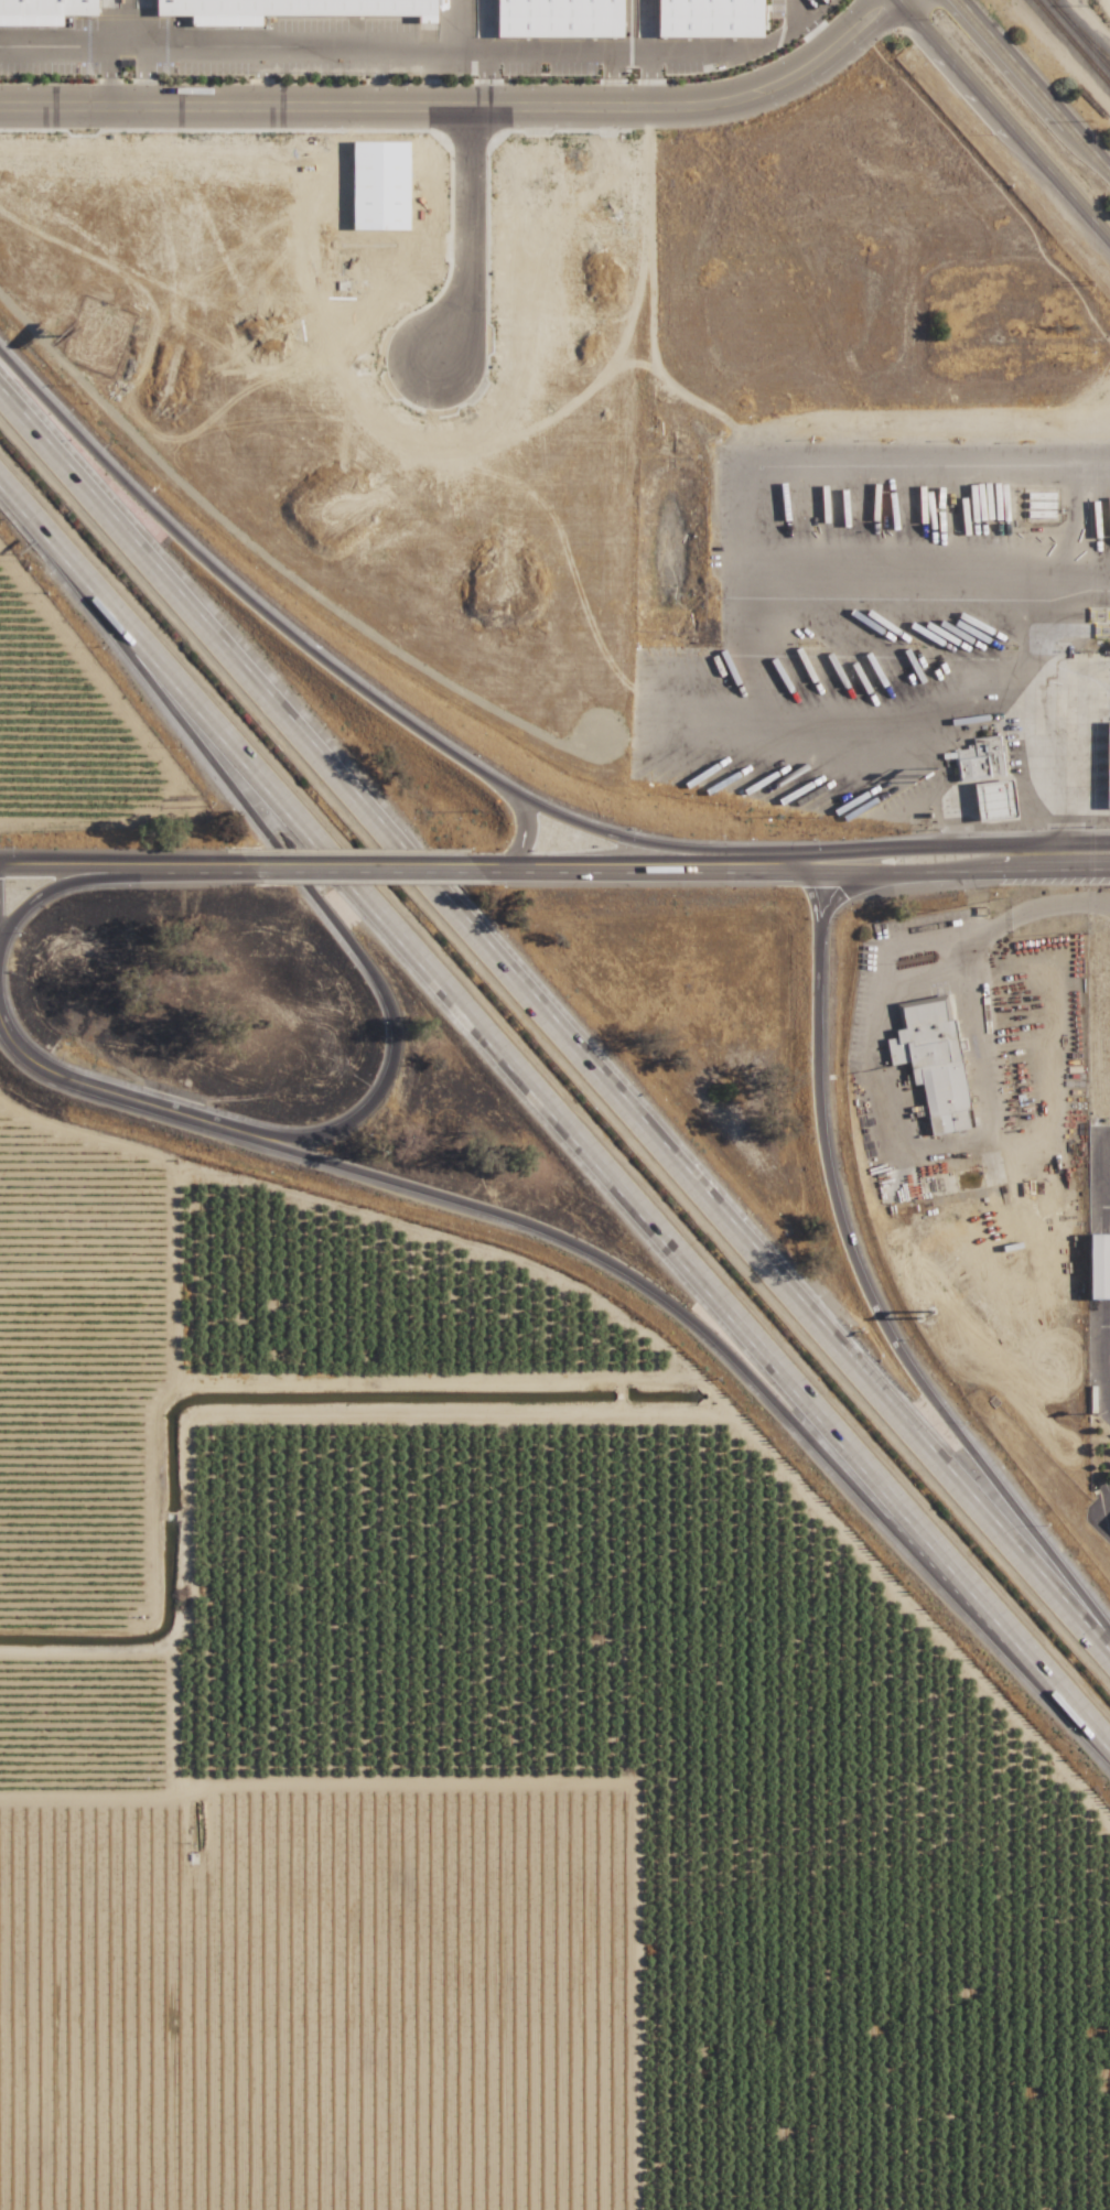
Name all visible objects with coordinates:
building: (288, 9)
road: (799, 9)
building: (43, 11)
building: (558, 18)
building: (709, 18)
road: (470, 30)
road: (813, 32)
railway: (1079, 34)
railway: (1071, 43)
road: (732, 51)
road: (565, 56)
road: (287, 57)
road: (52, 58)
road: (105, 63)
road: (650, 77)
road: (610, 78)
road: (482, 79)
road: (259, 80)
road: (425, 80)
road: (380, 82)
road: (1034, 85)
road: (455, 104)
road: (1003, 120)
road: (927, 570)
road: (237, 590)
road: (713, 655)
building: (1108, 758)
road: (1046, 770)
building: (984, 777)
road: (517, 827)
road: (629, 842)
road: (945, 845)
road: (86, 862)
road: (209, 863)
road: (363, 863)
road: (634, 863)
road: (777, 863)
road: (487, 864)
road: (945, 871)
road: (78, 878)
road: (847, 891)
road: (324, 910)
road: (974, 936)
road: (815, 1002)
road: (554, 1014)
building: (933, 1061)
road: (30, 1063)
road: (553, 1115)
road: (1103, 1152)
road: (300, 1155)
building: (1099, 1265)
road: (780, 1409)
road: (944, 1412)
road: (1100, 1520)

